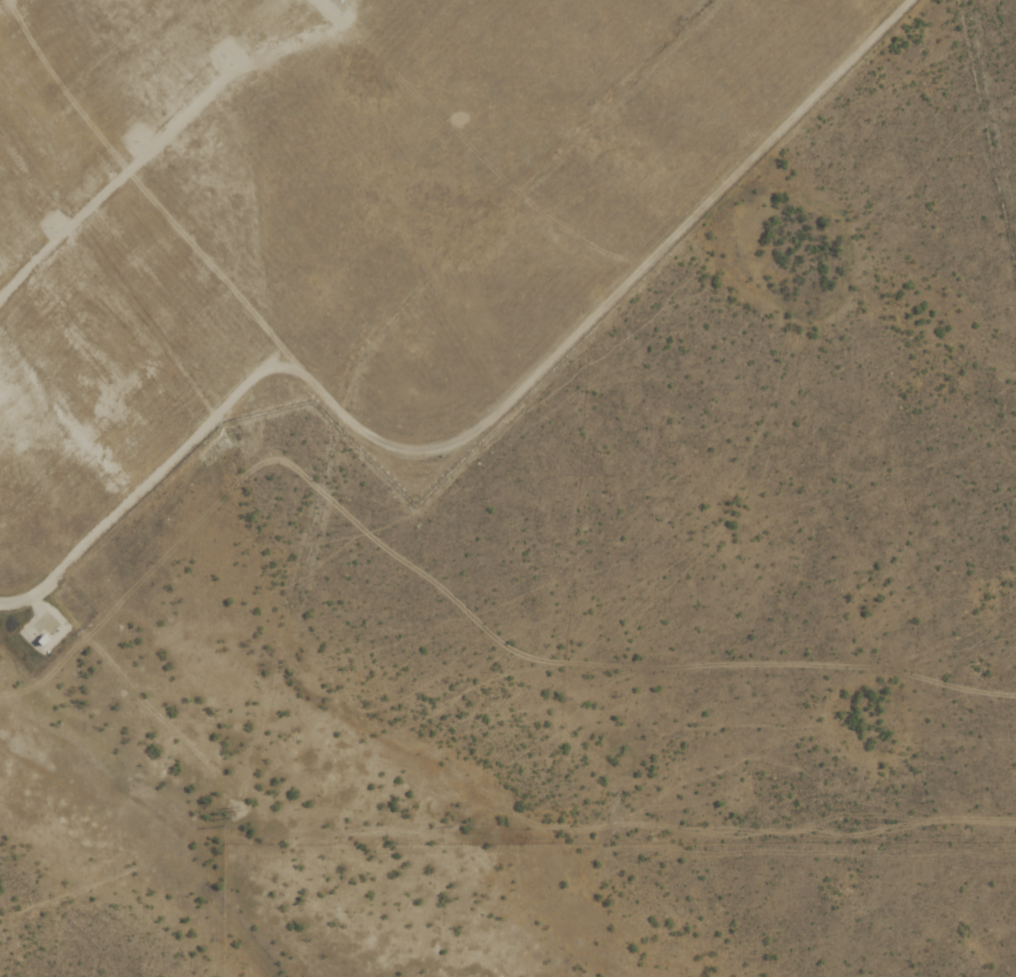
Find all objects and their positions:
airport: (335, 233)
road: (471, 433)

